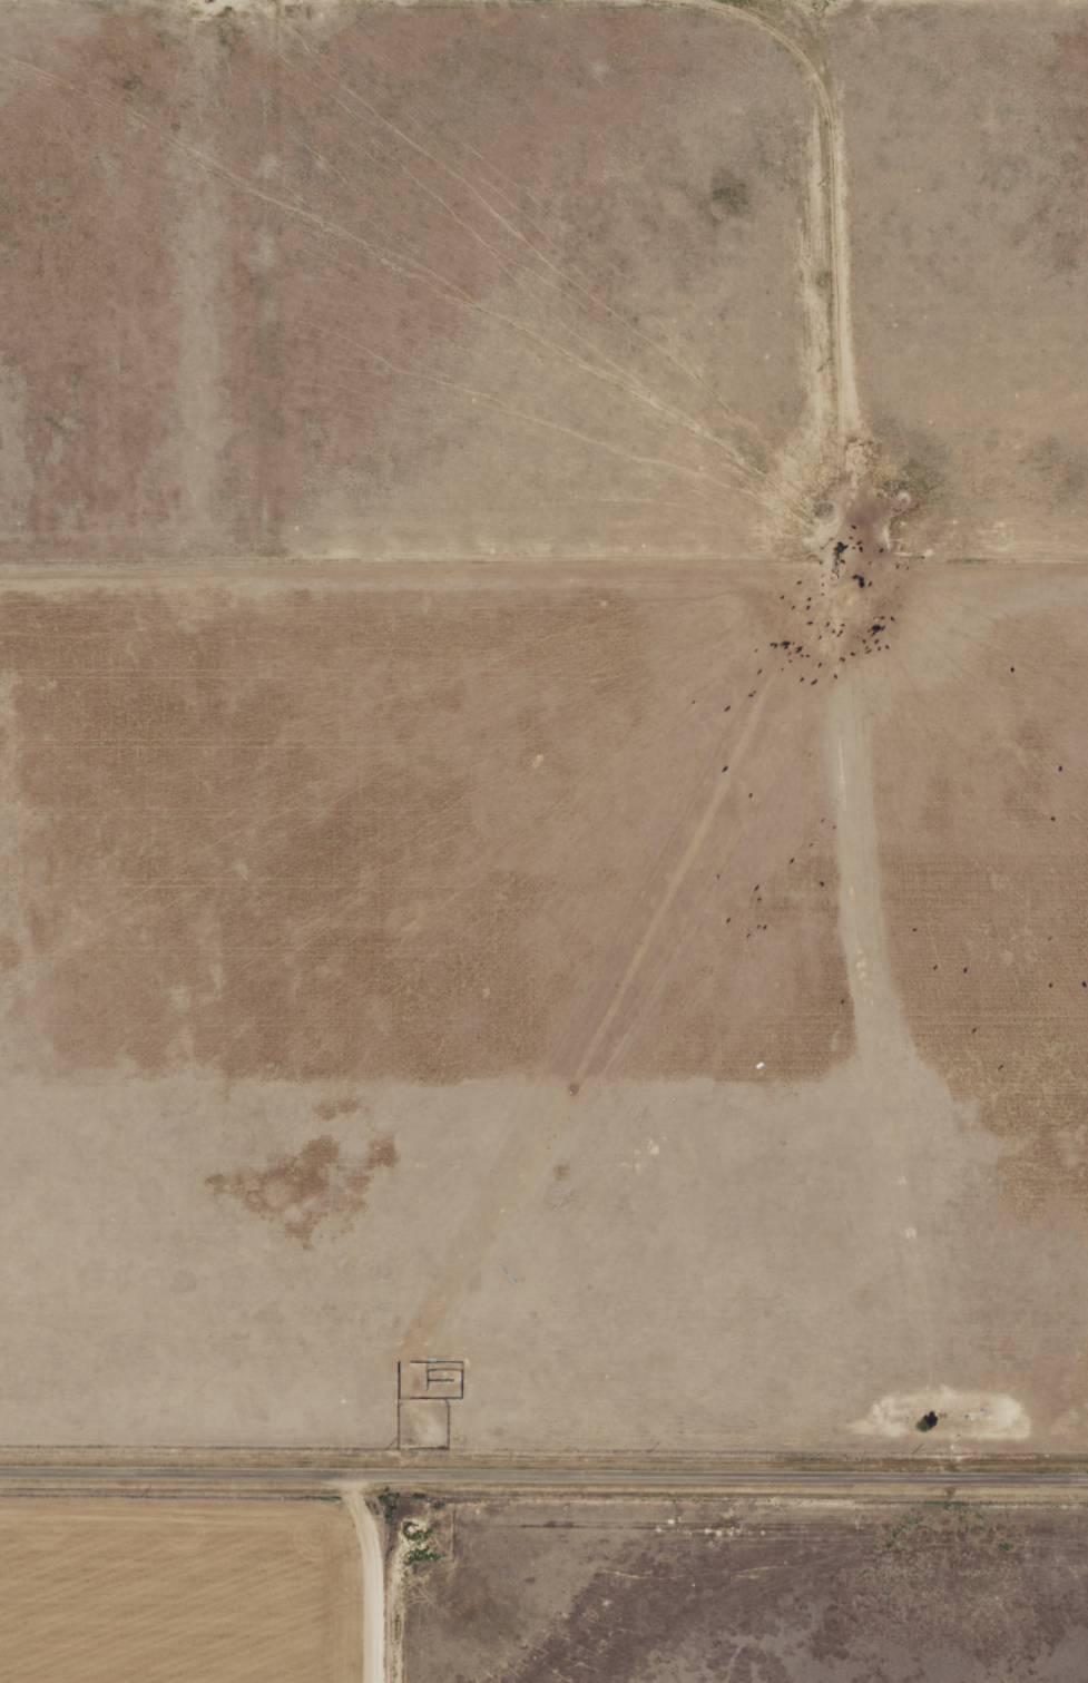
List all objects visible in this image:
road: (543, 1472)

